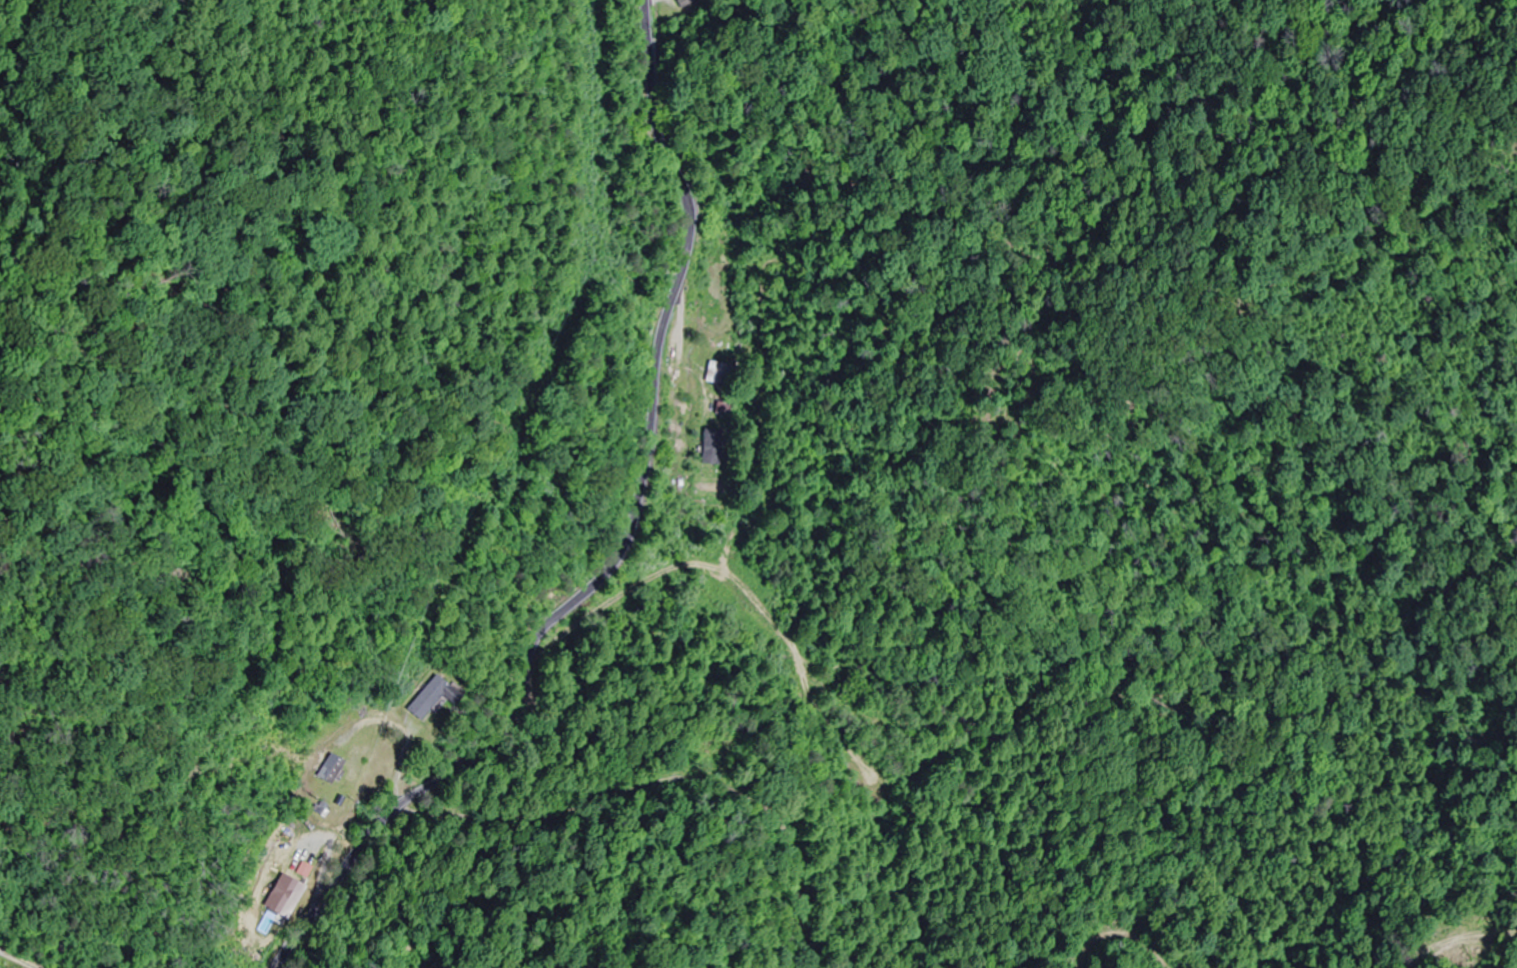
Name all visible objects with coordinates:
building: (690, 6)
building: (724, 373)
building: (713, 447)
road: (622, 546)
building: (429, 698)
building: (327, 769)
building: (280, 897)

